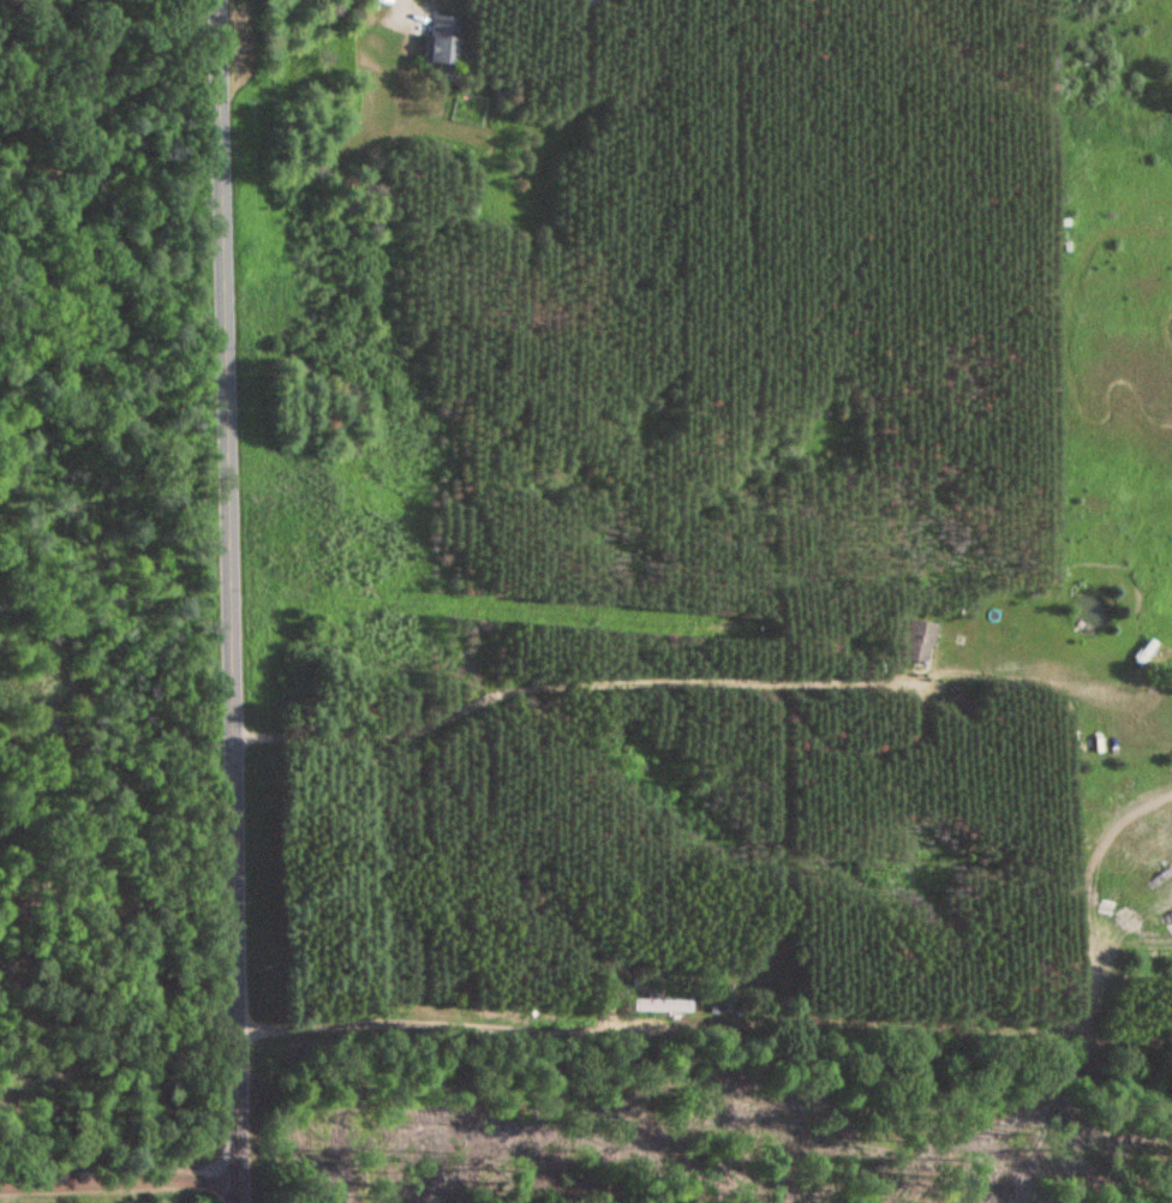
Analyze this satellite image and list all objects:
building: (442, 44)
road: (233, 601)
building: (917, 641)
road: (563, 686)
building: (663, 1006)
road: (112, 1180)

